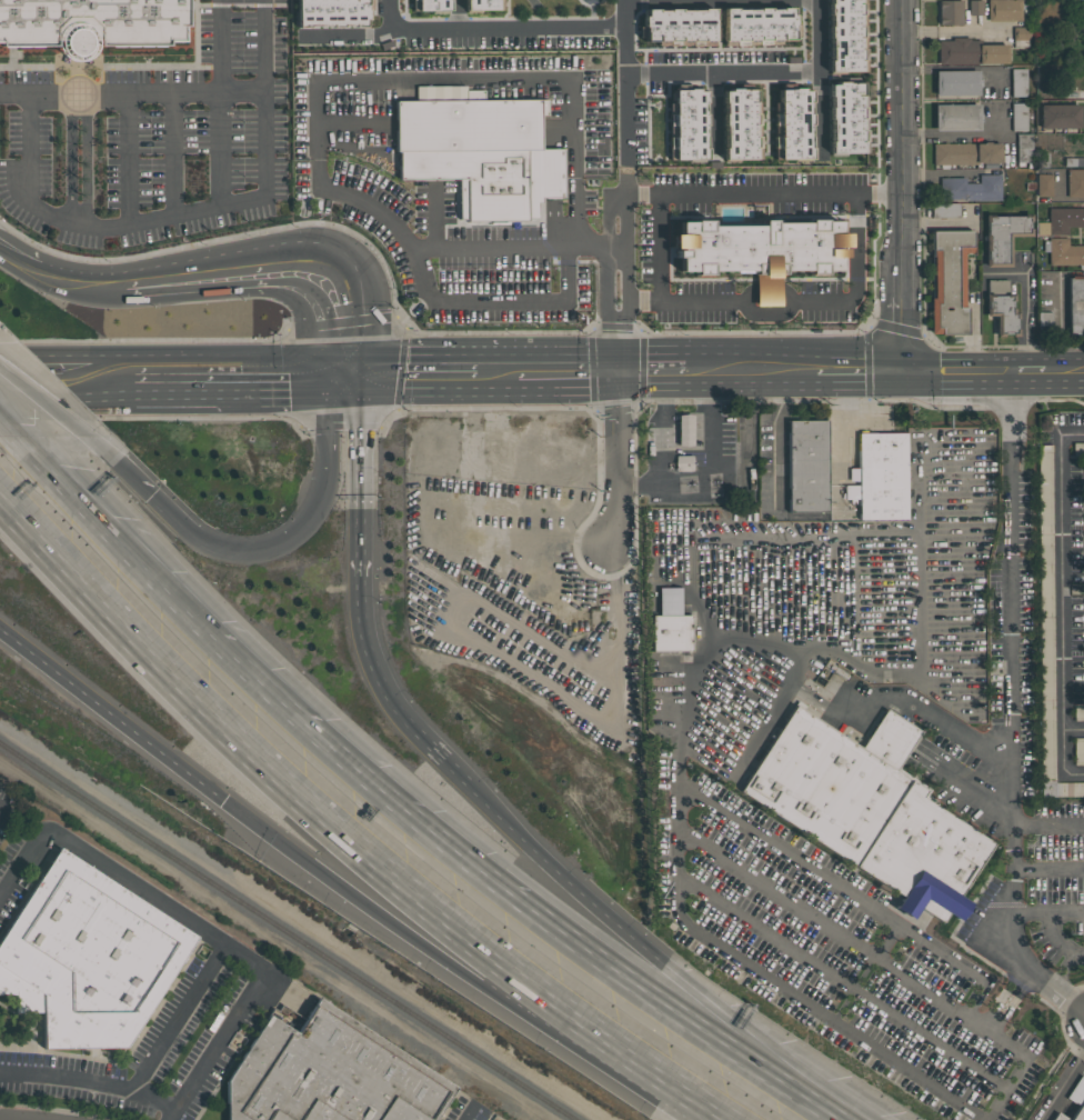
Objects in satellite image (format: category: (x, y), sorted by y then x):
building: (480, 4)
building: (432, 6)
building: (975, 8)
building: (1003, 10)
building: (331, 12)
road: (623, 13)
building: (950, 13)
road: (456, 16)
building: (96, 22)
building: (757, 26)
building: (679, 27)
road: (556, 29)
road: (952, 31)
building: (844, 36)
road: (345, 37)
road: (817, 37)
building: (956, 51)
building: (992, 54)
building: (1017, 82)
building: (956, 83)
road: (317, 86)
building: (449, 93)
building: (1083, 93)
road: (131, 96)
road: (220, 102)
road: (80, 107)
road: (817, 113)
building: (1018, 117)
building: (1058, 117)
building: (956, 118)
building: (845, 119)
building: (686, 123)
building: (740, 123)
building: (791, 123)
road: (957, 136)
building: (1026, 152)
building: (480, 153)
building: (965, 154)
road: (72, 162)
road: (87, 162)
road: (123, 162)
building: (1074, 162)
building: (1074, 182)
building: (1043, 184)
road: (904, 186)
building: (970, 189)
road: (642, 194)
road: (662, 194)
road: (879, 194)
road: (1063, 199)
building: (946, 210)
road: (188, 211)
road: (80, 216)
building: (1061, 220)
building: (1003, 237)
building: (760, 250)
building: (1063, 252)
road: (16, 263)
road: (274, 266)
road: (621, 267)
road: (854, 276)
building: (948, 281)
road: (77, 284)
road: (766, 292)
road: (493, 296)
road: (787, 296)
road: (749, 297)
road: (639, 300)
building: (1075, 304)
road: (1024, 306)
building: (1001, 307)
road: (769, 314)
road: (661, 371)
road: (697, 371)
road: (764, 371)
road: (860, 371)
road: (958, 372)
road: (1064, 372)
road: (1027, 373)
road: (238, 374)
traffic signals: (342, 374)
road: (409, 374)
road: (496, 374)
road: (579, 374)
road: (67, 376)
road: (58, 407)
road: (14, 416)
road: (659, 429)
building: (684, 430)
road: (775, 439)
road: (615, 459)
building: (683, 462)
building: (809, 468)
road: (360, 474)
road: (713, 477)
building: (883, 478)
road: (132, 479)
building: (851, 492)
road: (295, 533)
road: (791, 539)
road: (1062, 600)
building: (669, 601)
road: (915, 603)
building: (1047, 632)
building: (670, 633)
road: (223, 637)
road: (793, 643)
road: (387, 693)
road: (1012, 709)
road: (108, 711)
building: (1078, 713)
road: (945, 727)
road: (1074, 729)
building: (1078, 750)
parking lot: (864, 763)
road: (319, 802)
building: (865, 813)
road: (1047, 824)
road: (1047, 869)
road: (562, 878)
road: (849, 894)
road: (1048, 911)
road: (195, 924)
railway: (290, 928)
road: (833, 931)
road: (1055, 938)
road: (434, 952)
building: (88, 957)
road: (1061, 973)
road: (764, 976)
road: (625, 977)
road: (843, 984)
road: (1006, 1001)
road: (1083, 1011)
road: (177, 1016)
road: (1080, 1027)
road: (765, 1043)
road: (1020, 1070)
building: (330, 1074)
road: (89, 1081)
road: (1064, 1087)
road: (696, 1101)
building: (1074, 1101)

